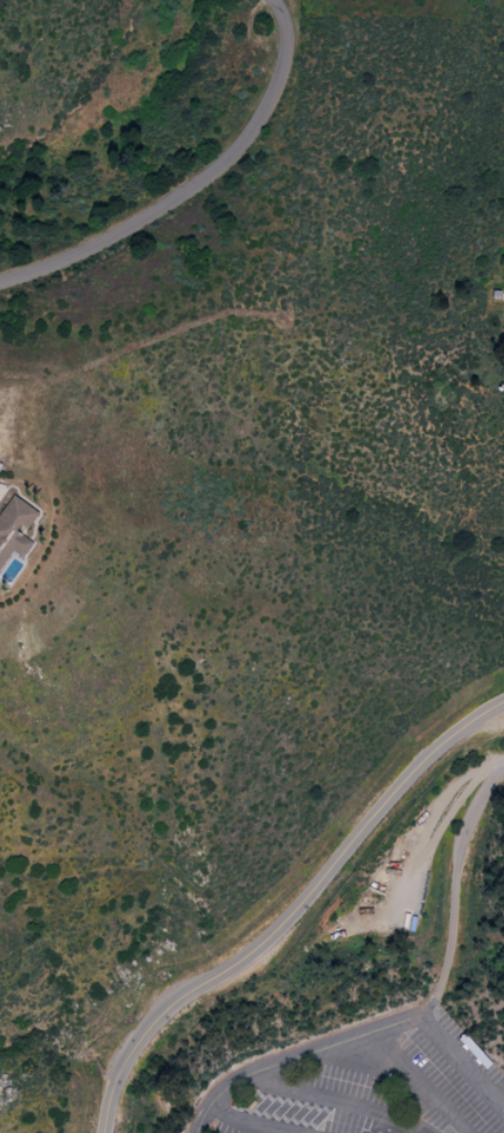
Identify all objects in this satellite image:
road: (194, 184)
building: (13, 527)
road: (454, 888)
road: (293, 913)
road: (295, 1056)
road: (462, 1061)
road: (421, 1082)
parking lot: (361, 1083)
road: (334, 1100)
road: (244, 1123)

